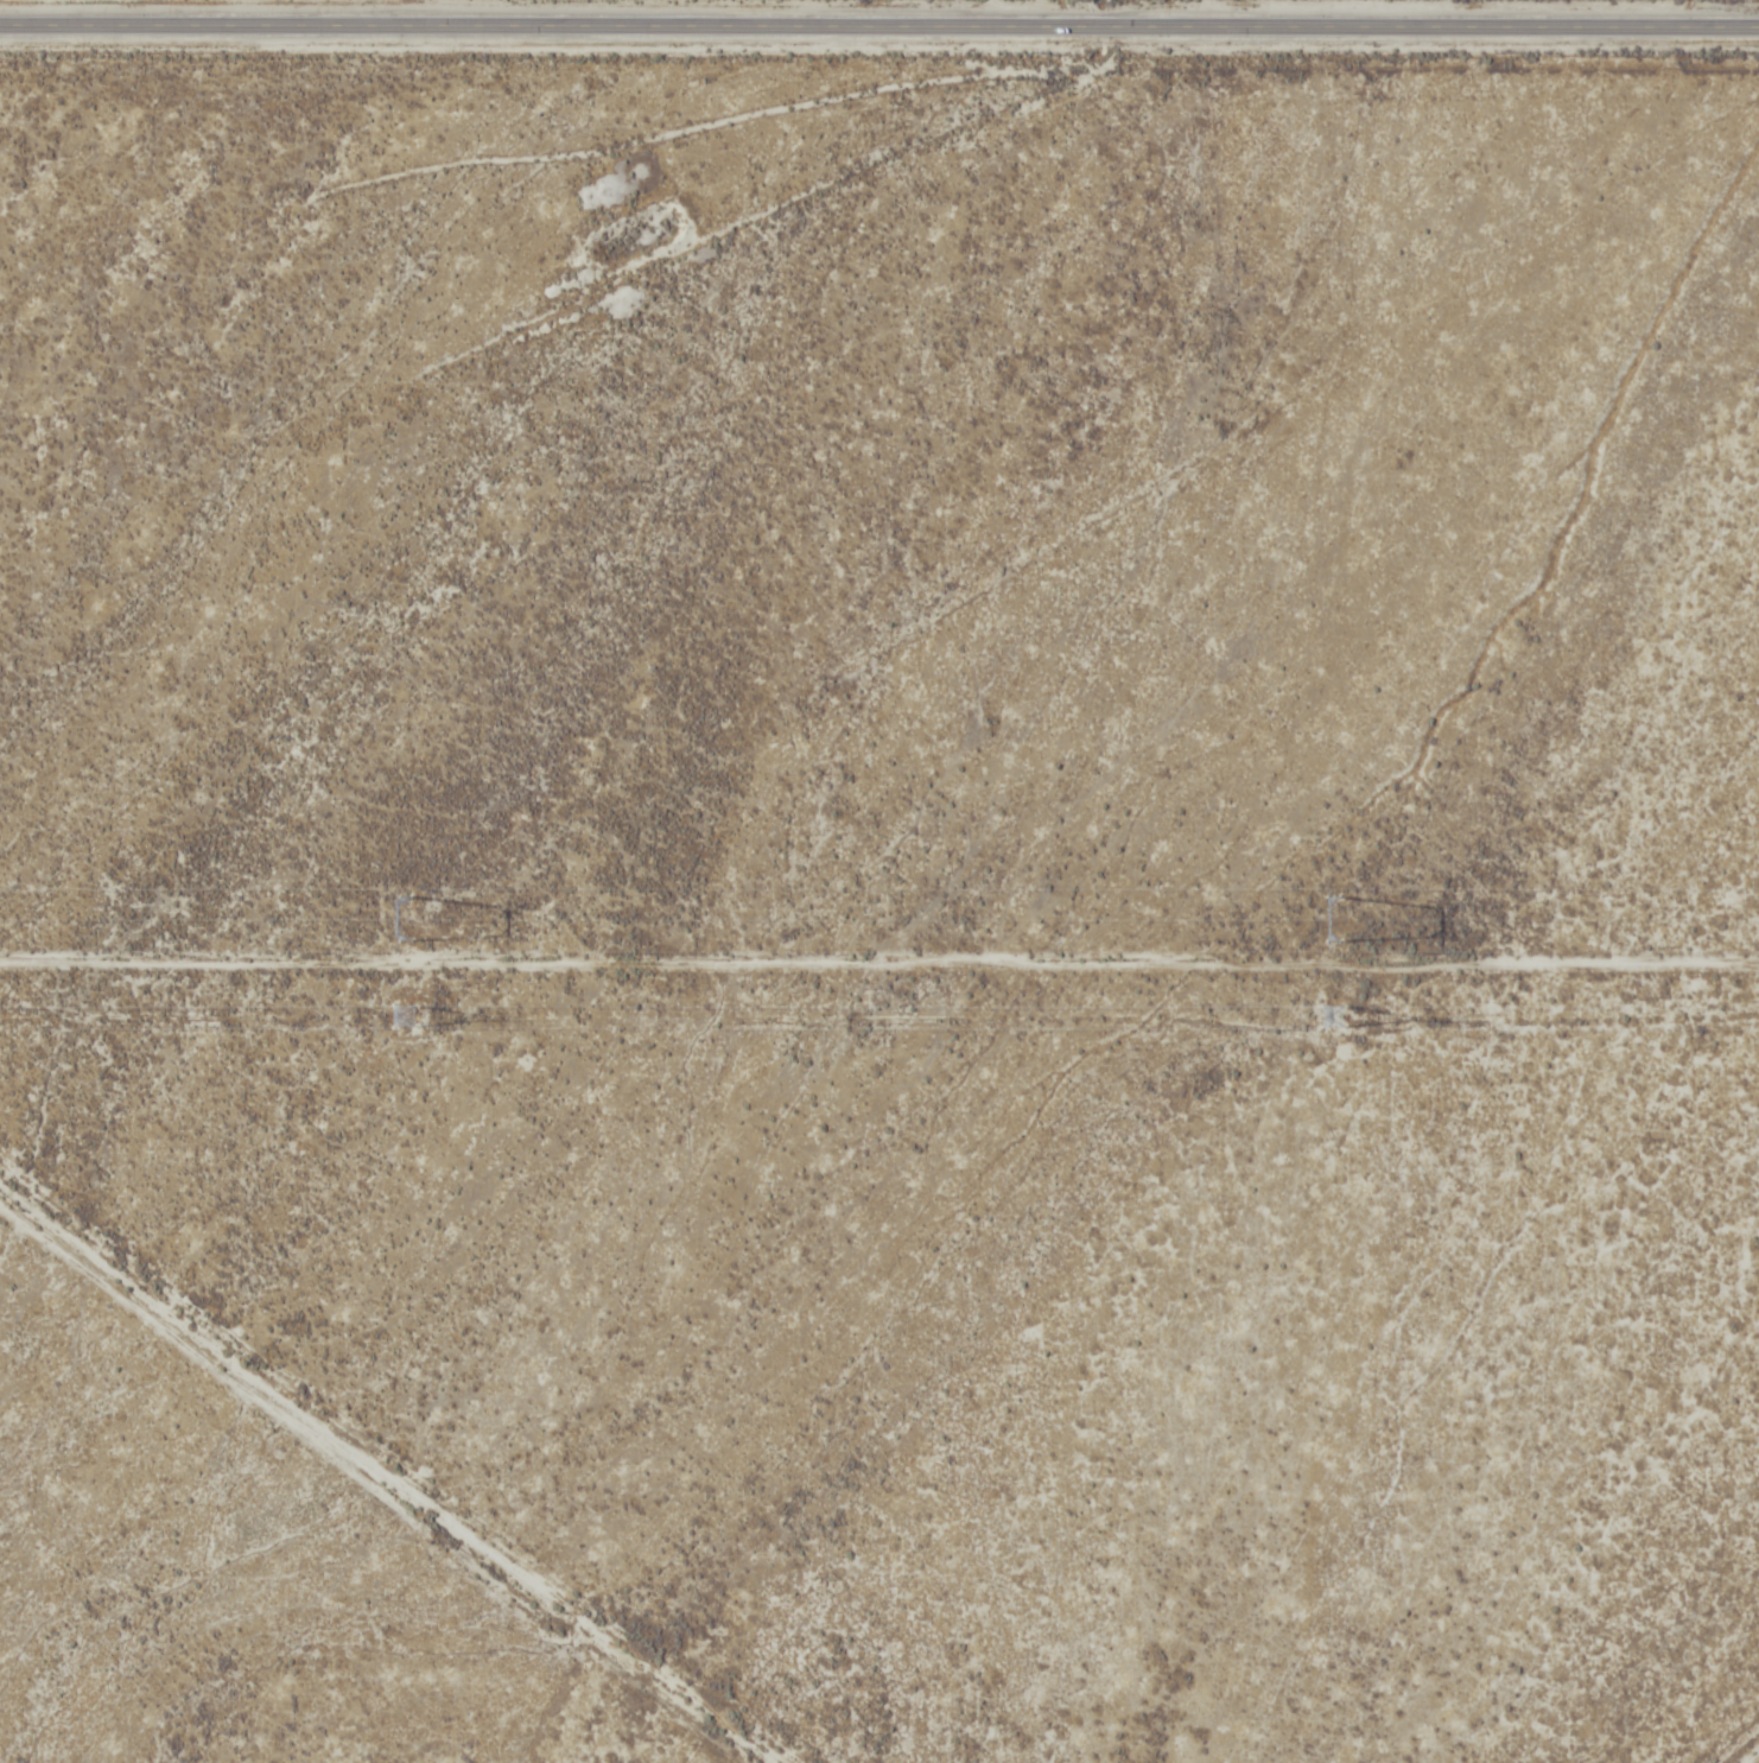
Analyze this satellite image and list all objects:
road: (879, 26)
power tower: (424, 924)
power tower: (1352, 930)
power tower: (1361, 1019)
power tower: (412, 1021)

